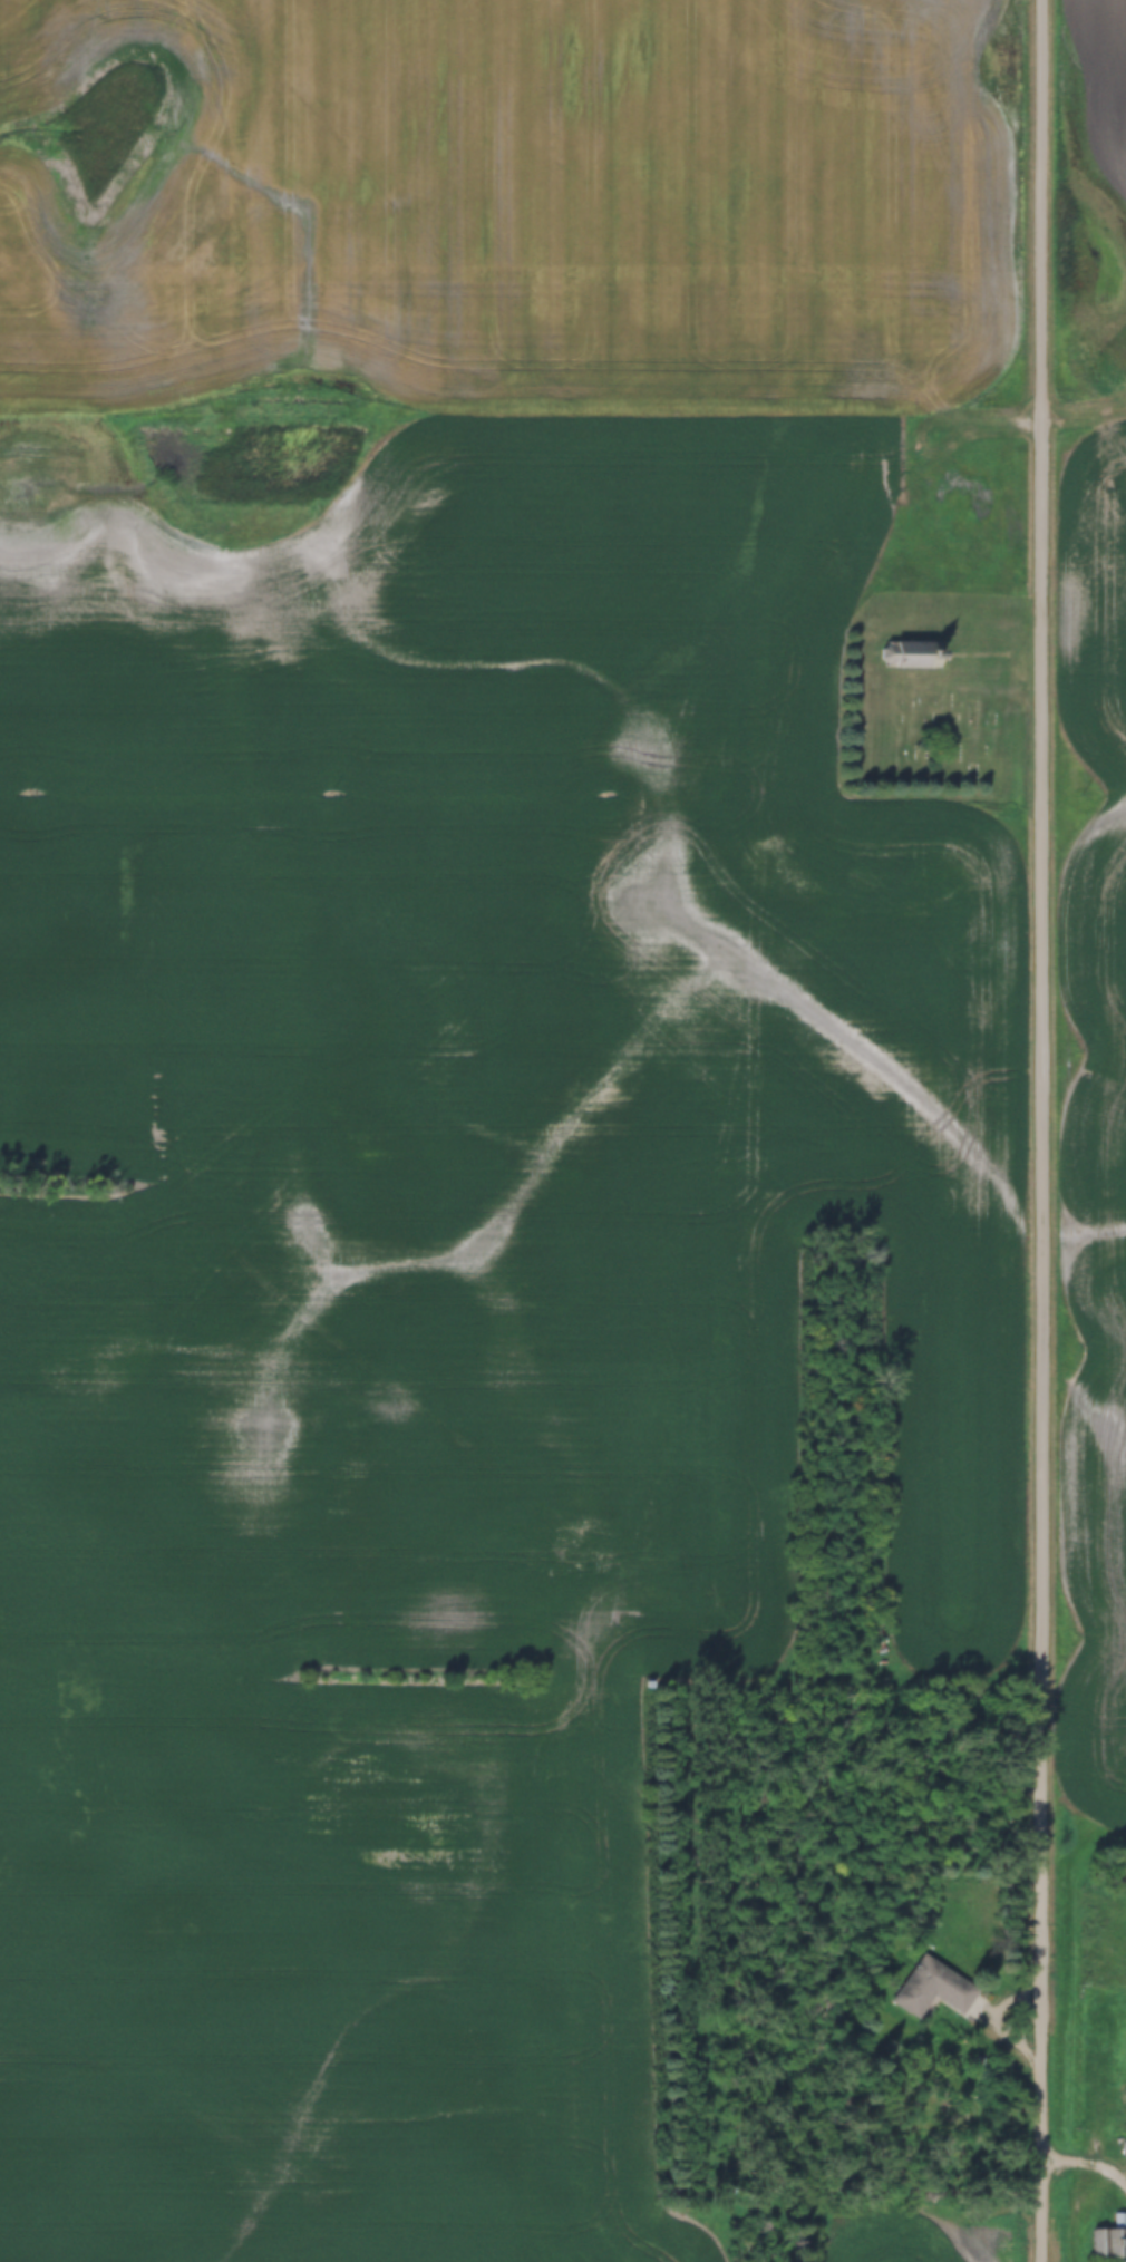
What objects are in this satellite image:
road: (520, 439)
road: (1083, 443)
road: (1039, 1130)
building: (940, 1993)
road: (1085, 2166)
building: (1110, 2242)

